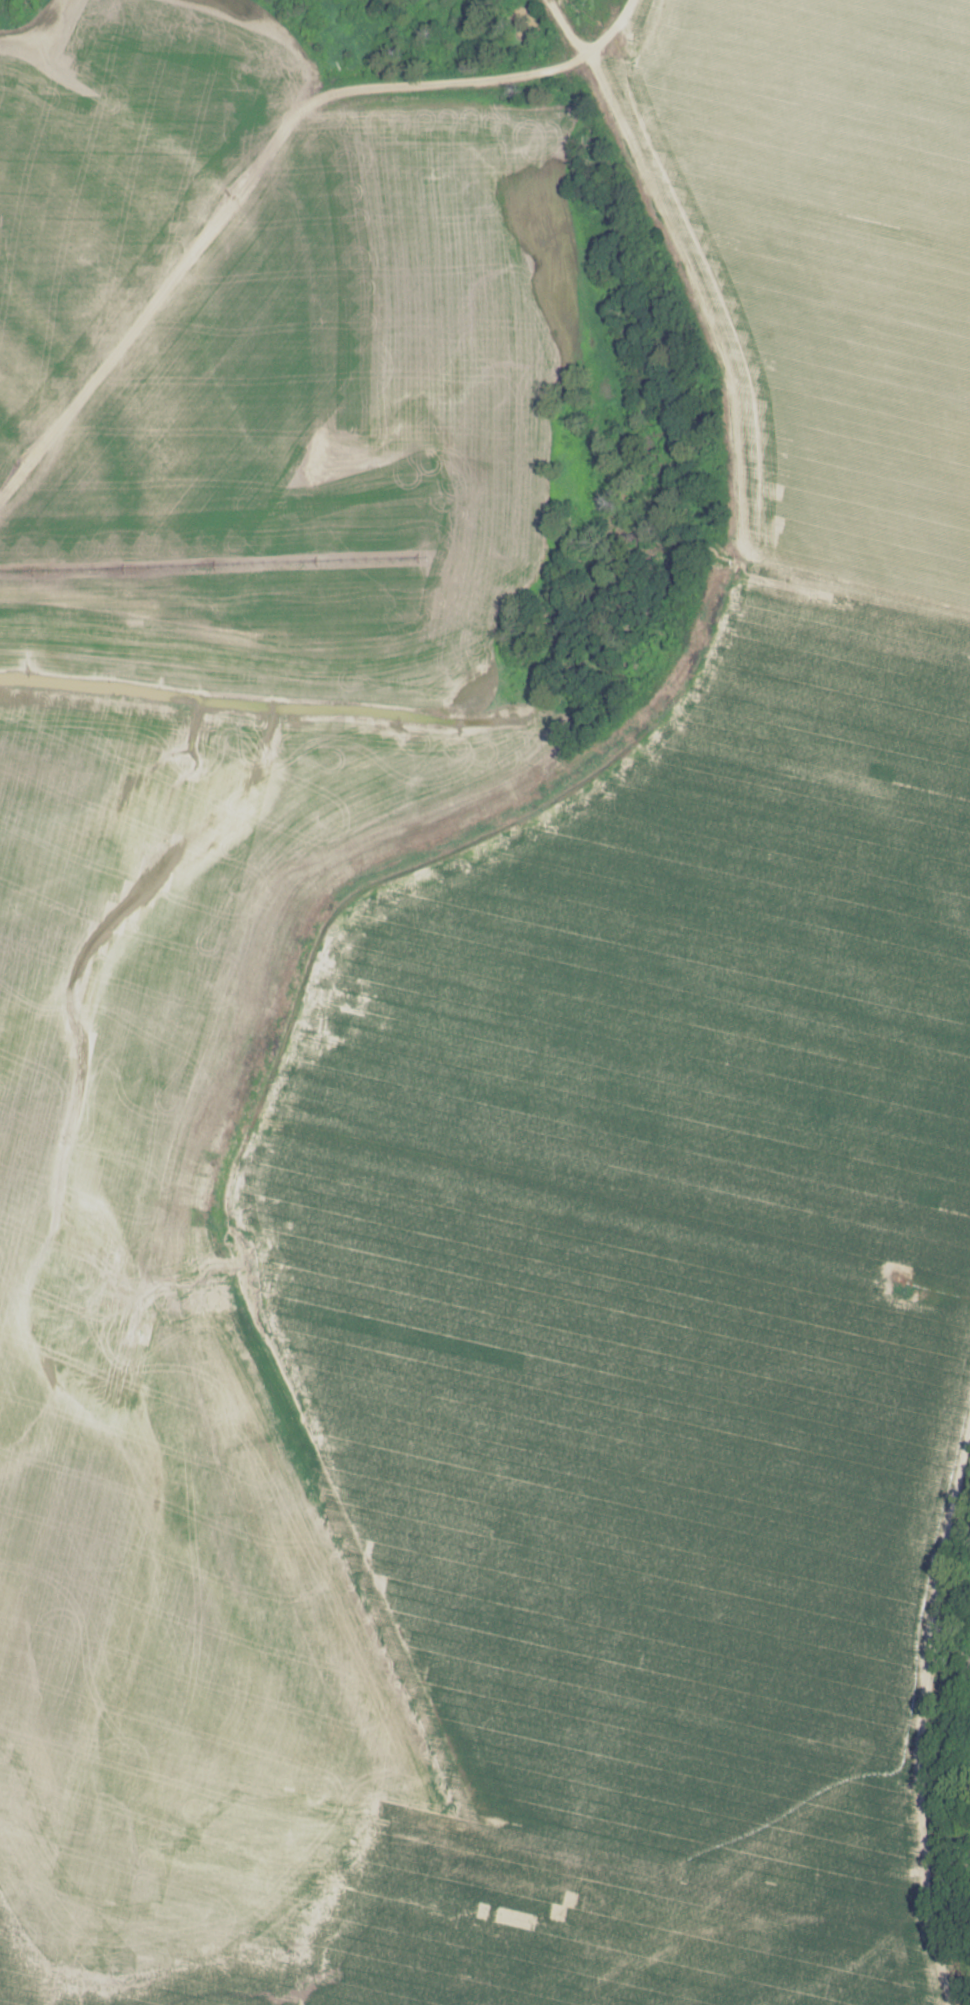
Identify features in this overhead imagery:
road: (263, 157)
road: (728, 402)
road: (320, 1490)
road: (639, 1945)

